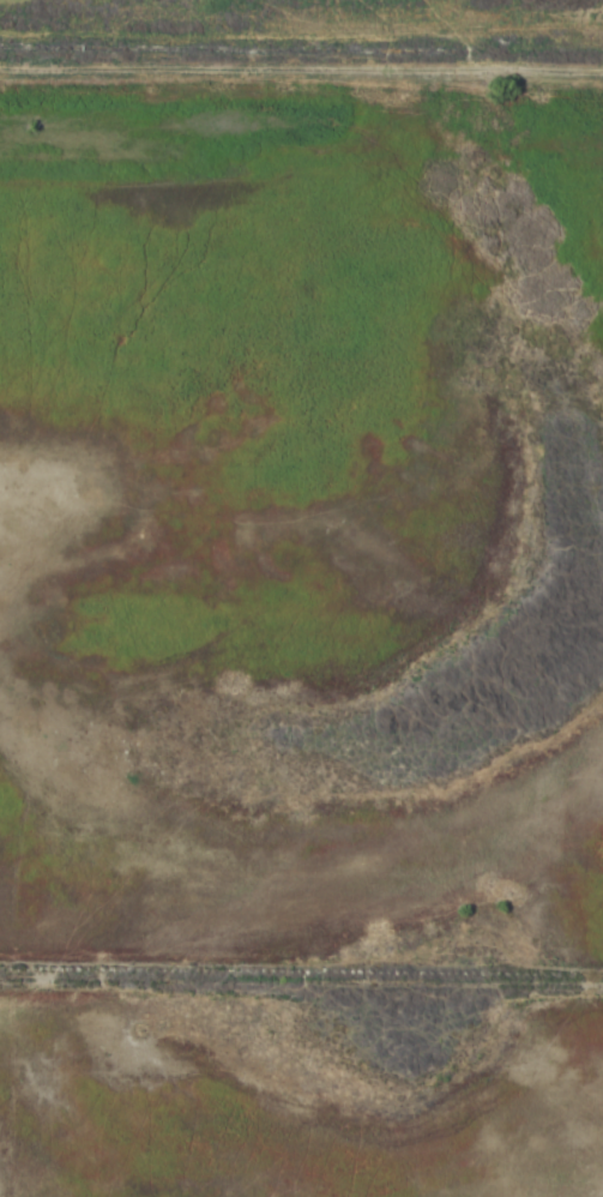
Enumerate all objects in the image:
road: (301, 50)

